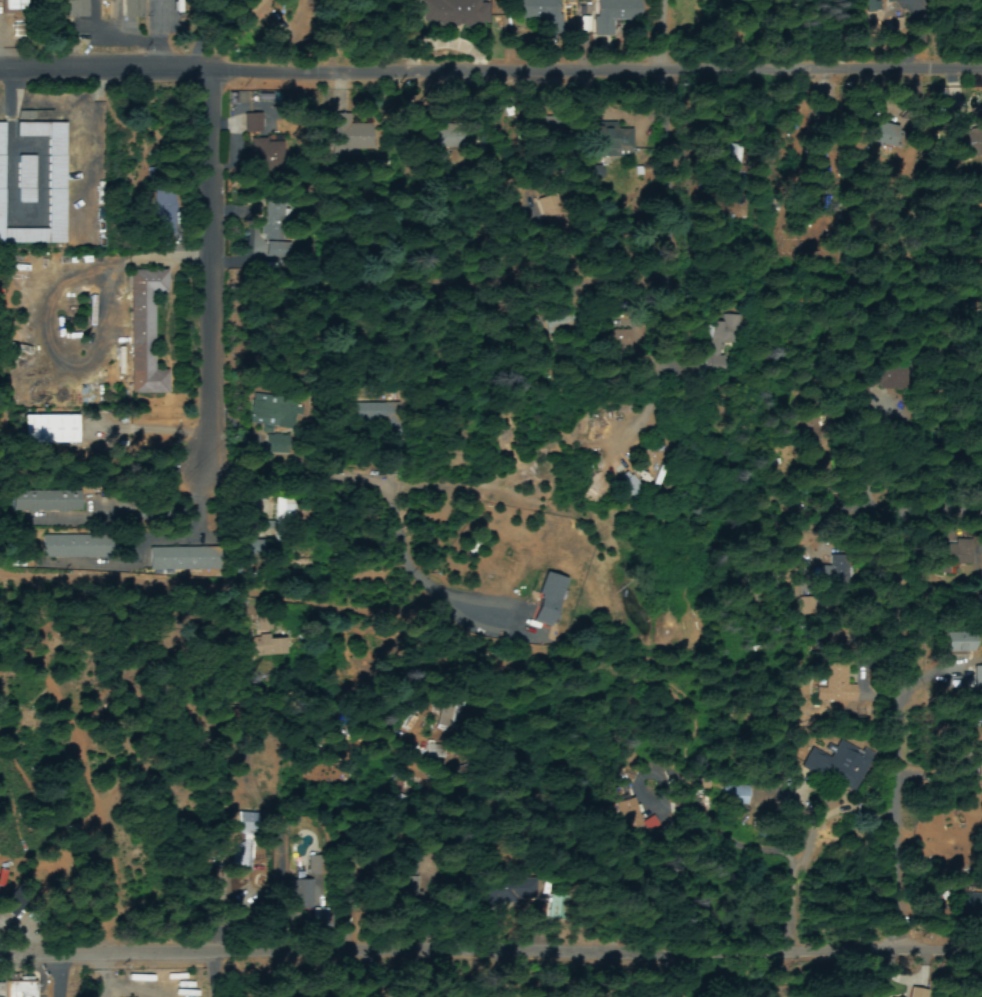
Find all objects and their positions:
building: (12, 5)
building: (77, 9)
building: (132, 9)
building: (616, 10)
building: (457, 12)
building: (538, 12)
road: (491, 62)
road: (211, 115)
building: (249, 125)
building: (882, 136)
building: (615, 141)
road: (639, 156)
building: (731, 159)
building: (25, 181)
building: (55, 185)
building: (163, 215)
building: (273, 222)
road: (516, 242)
road: (212, 318)
building: (144, 331)
building: (718, 347)
building: (887, 380)
building: (268, 412)
building: (49, 431)
road: (686, 447)
building: (632, 488)
building: (46, 502)
building: (282, 514)
building: (74, 545)
building: (255, 551)
building: (954, 555)
building: (183, 559)
building: (548, 601)
road: (133, 603)
building: (826, 641)
building: (959, 644)
building: (263, 646)
building: (978, 680)
building: (835, 688)
road: (964, 691)
building: (433, 751)
building: (834, 765)
building: (978, 768)
building: (735, 797)
building: (242, 846)
road: (649, 856)
building: (312, 868)
building: (506, 891)
building: (319, 919)
building: (19, 990)
road: (495, 990)

